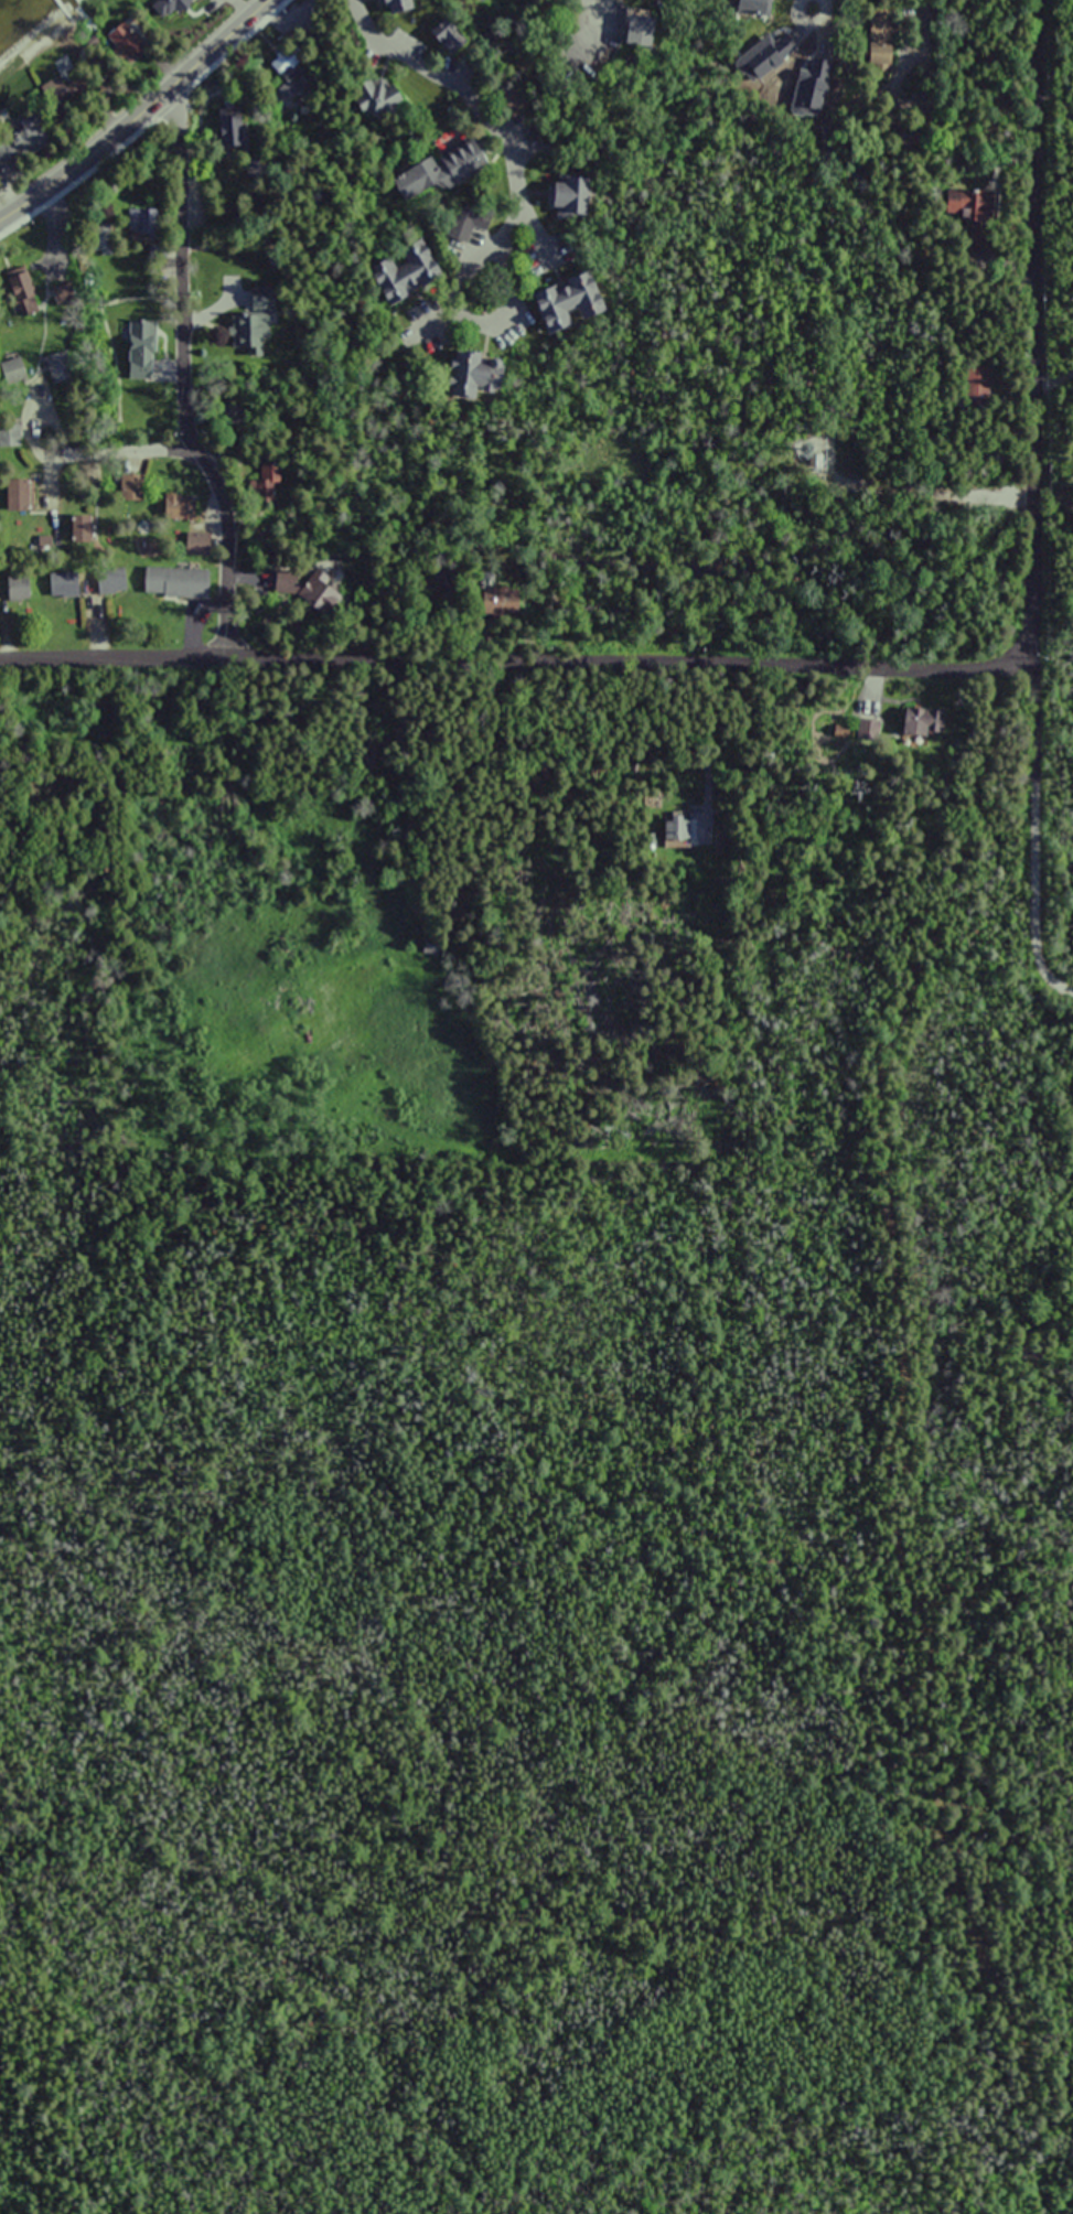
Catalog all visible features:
building: (393, 7)
building: (440, 43)
building: (376, 96)
road: (493, 107)
road: (130, 108)
road: (1054, 111)
building: (227, 130)
building: (28, 139)
building: (437, 172)
building: (567, 198)
building: (140, 222)
building: (465, 227)
road: (181, 265)
building: (232, 273)
building: (398, 273)
building: (21, 293)
building: (567, 301)
building: (244, 329)
building: (12, 369)
building: (138, 369)
building: (472, 372)
road: (1054, 377)
building: (978, 386)
building: (10, 436)
road: (126, 452)
building: (131, 486)
road: (1033, 487)
building: (17, 494)
road: (1053, 497)
building: (176, 507)
building: (77, 528)
building: (196, 544)
road: (227, 544)
building: (111, 580)
building: (175, 581)
building: (63, 583)
building: (17, 590)
road: (512, 660)
building: (922, 721)
road: (1058, 982)

